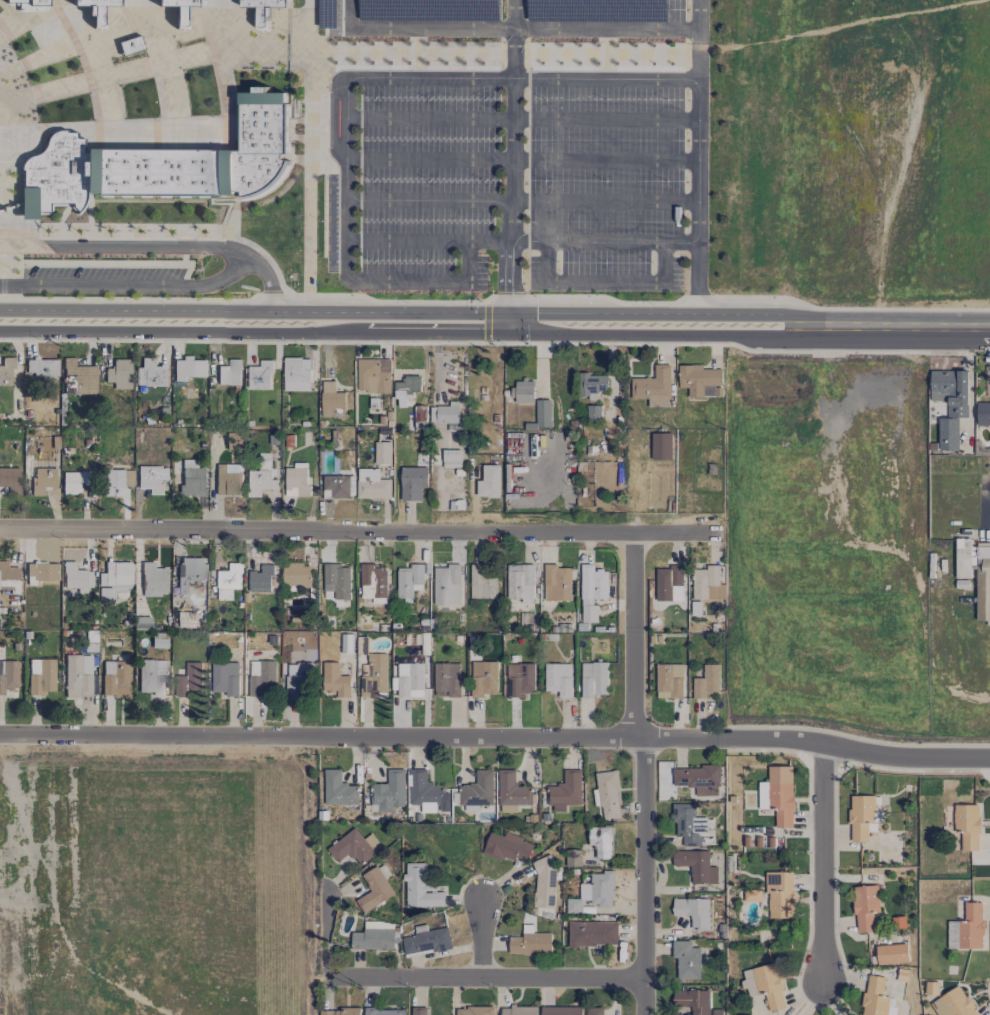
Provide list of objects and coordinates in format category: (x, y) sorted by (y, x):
building: (31, 5)
building: (181, 9)
building: (265, 9)
building: (97, 10)
road: (513, 13)
road: (415, 27)
road: (620, 27)
road: (514, 30)
road: (698, 31)
building: (130, 46)
road: (698, 58)
road: (522, 78)
road: (521, 117)
road: (512, 137)
road: (344, 138)
road: (520, 157)
road: (696, 160)
building: (162, 164)
road: (427, 201)
road: (604, 203)
road: (405, 241)
road: (489, 241)
road: (528, 241)
road: (605, 242)
road: (680, 243)
road: (253, 261)
road: (695, 276)
road: (602, 280)
road: (386, 282)
road: (268, 283)
road: (511, 288)
road: (409, 312)
road: (904, 326)
road: (410, 334)
traffic signals: (511, 335)
building: (43, 369)
building: (189, 369)
building: (6, 372)
building: (229, 373)
building: (119, 374)
building: (150, 374)
building: (296, 374)
building: (260, 375)
building: (374, 375)
building: (79, 378)
building: (698, 379)
building: (593, 383)
building: (407, 386)
building: (653, 387)
building: (523, 391)
building: (331, 398)
building: (950, 403)
building: (543, 412)
building: (593, 413)
building: (983, 413)
building: (445, 416)
building: (233, 441)
building: (661, 445)
building: (383, 452)
building: (451, 458)
building: (261, 476)
building: (151, 479)
building: (191, 479)
building: (10, 480)
building: (42, 480)
building: (228, 480)
building: (296, 480)
building: (111, 481)
building: (72, 482)
building: (413, 482)
building: (489, 482)
building: (372, 484)
building: (337, 485)
road: (356, 533)
building: (42, 572)
building: (975, 572)
building: (296, 574)
building: (10, 575)
building: (189, 576)
building: (76, 578)
building: (260, 579)
building: (114, 580)
building: (153, 580)
building: (337, 580)
building: (409, 580)
building: (229, 581)
building: (373, 581)
building: (483, 581)
building: (667, 581)
building: (521, 582)
building: (557, 583)
building: (707, 583)
building: (447, 584)
building: (593, 592)
building: (677, 593)
building: (188, 619)
road: (633, 638)
building: (157, 643)
building: (8, 676)
building: (41, 676)
building: (77, 676)
building: (152, 677)
building: (225, 677)
building: (375, 677)
building: (262, 678)
building: (483, 678)
building: (116, 679)
building: (190, 679)
building: (447, 679)
building: (520, 679)
building: (558, 679)
building: (594, 679)
building: (299, 680)
building: (335, 680)
building: (410, 680)
building: (669, 681)
building: (706, 682)
road: (322, 738)
road: (817, 745)
building: (698, 779)
building: (338, 789)
building: (512, 789)
building: (477, 791)
building: (566, 791)
building: (388, 792)
building: (426, 793)
building: (607, 794)
building: (778, 795)
building: (861, 816)
building: (688, 824)
building: (967, 825)
building: (602, 841)
building: (354, 847)
building: (507, 847)
building: (572, 859)
building: (696, 865)
road: (823, 866)
road: (645, 877)
building: (544, 882)
building: (420, 888)
building: (374, 889)
building: (593, 892)
building: (780, 894)
building: (865, 907)
building: (693, 911)
building: (967, 928)
building: (592, 933)
road: (328, 936)
building: (373, 939)
road: (482, 939)
building: (426, 940)
building: (891, 954)
building: (686, 959)
road: (486, 979)
building: (765, 985)
building: (876, 997)
building: (692, 1000)
building: (520, 1010)
building: (561, 1010)
building: (384, 1011)
building: (419, 1011)
building: (474, 1011)
building: (594, 1011)
building: (339, 1012)
building: (716, 1012)

